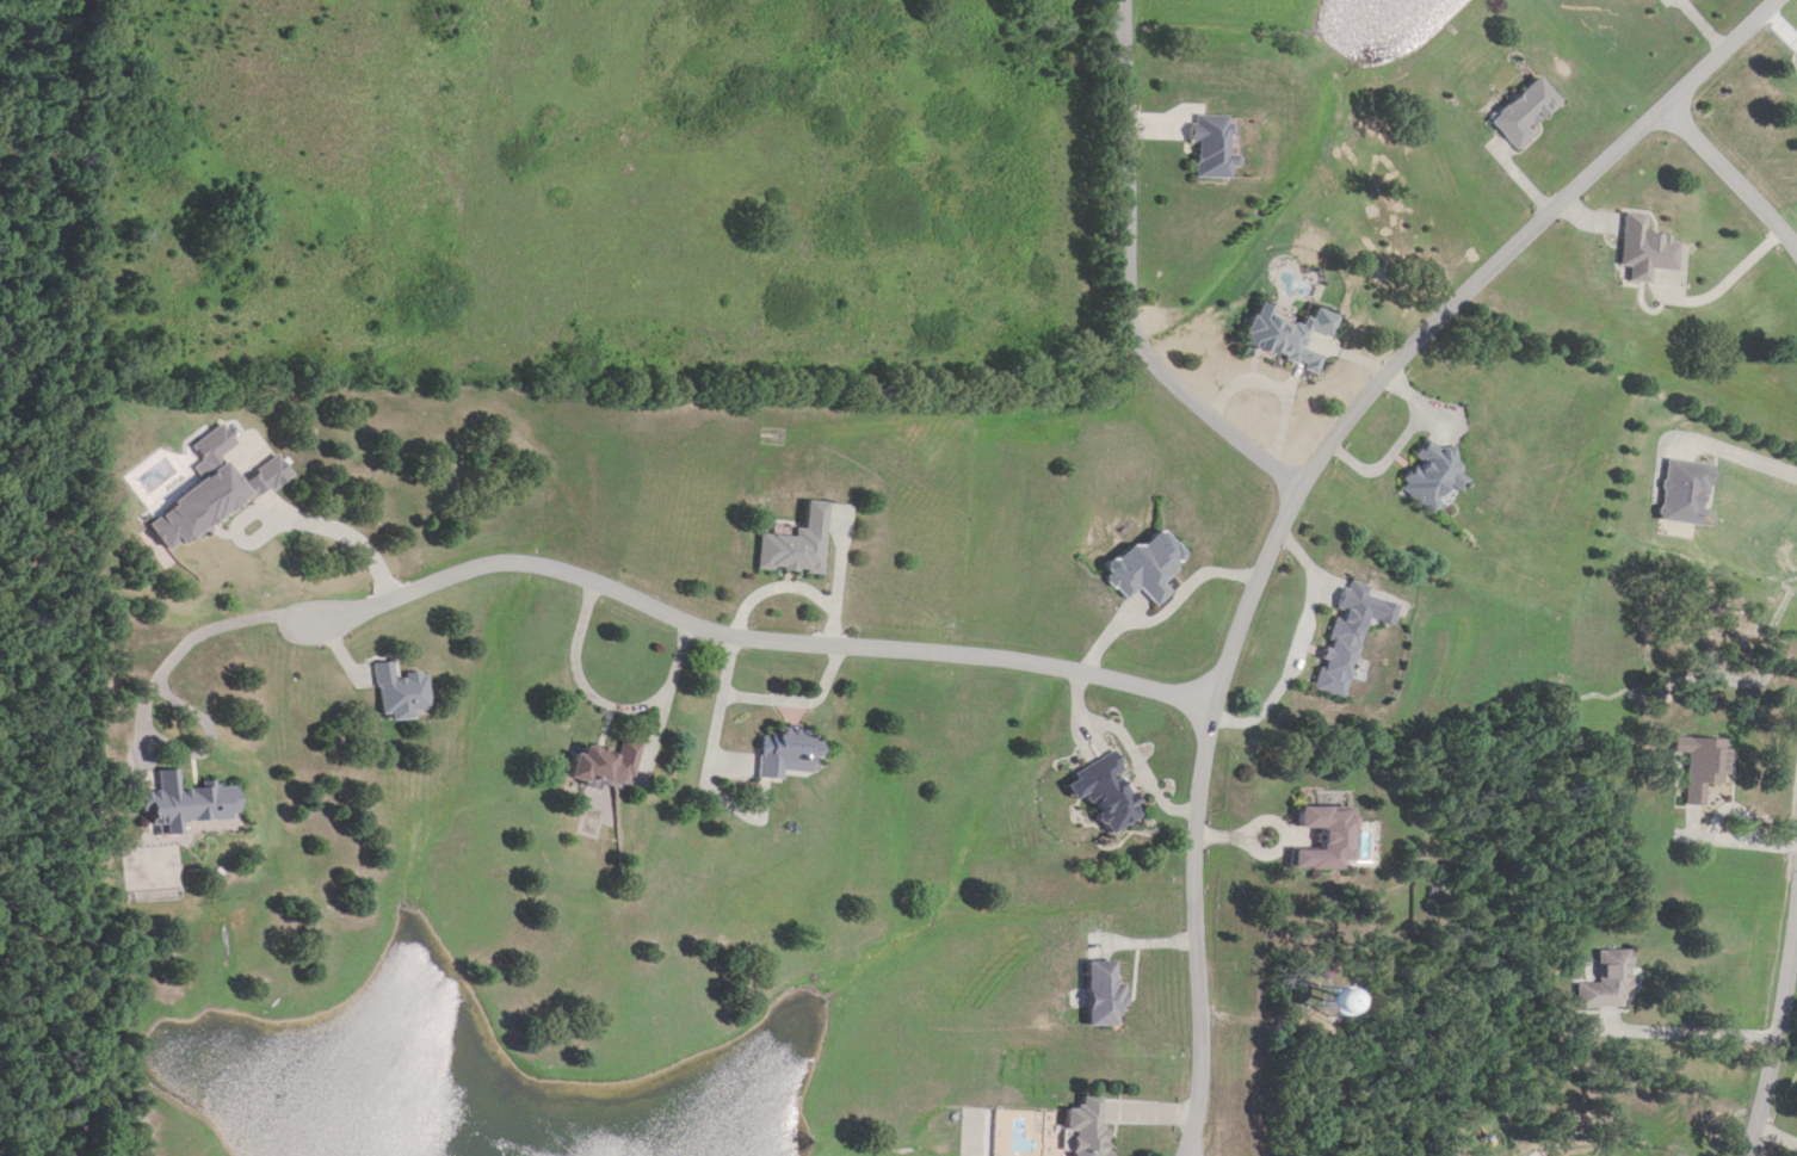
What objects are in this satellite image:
road: (1749, 25)
road: (1705, 66)
building: (1524, 113)
building: (1211, 144)
road: (1731, 174)
building: (1645, 249)
road: (1129, 280)
road: (1727, 285)
building: (1286, 334)
building: (1432, 478)
building: (212, 493)
building: (1685, 493)
road: (1271, 542)
building: (795, 545)
building: (1148, 568)
road: (482, 570)
building: (1338, 660)
building: (400, 694)
road: (765, 700)
road: (604, 705)
building: (786, 754)
building: (606, 766)
building: (1702, 767)
building: (1106, 793)
building: (191, 804)
building: (1328, 840)
building: (1607, 983)
building: (1104, 995)
road: (1693, 1032)
road: (1777, 1040)
road: (137, 1125)
building: (1087, 1129)

